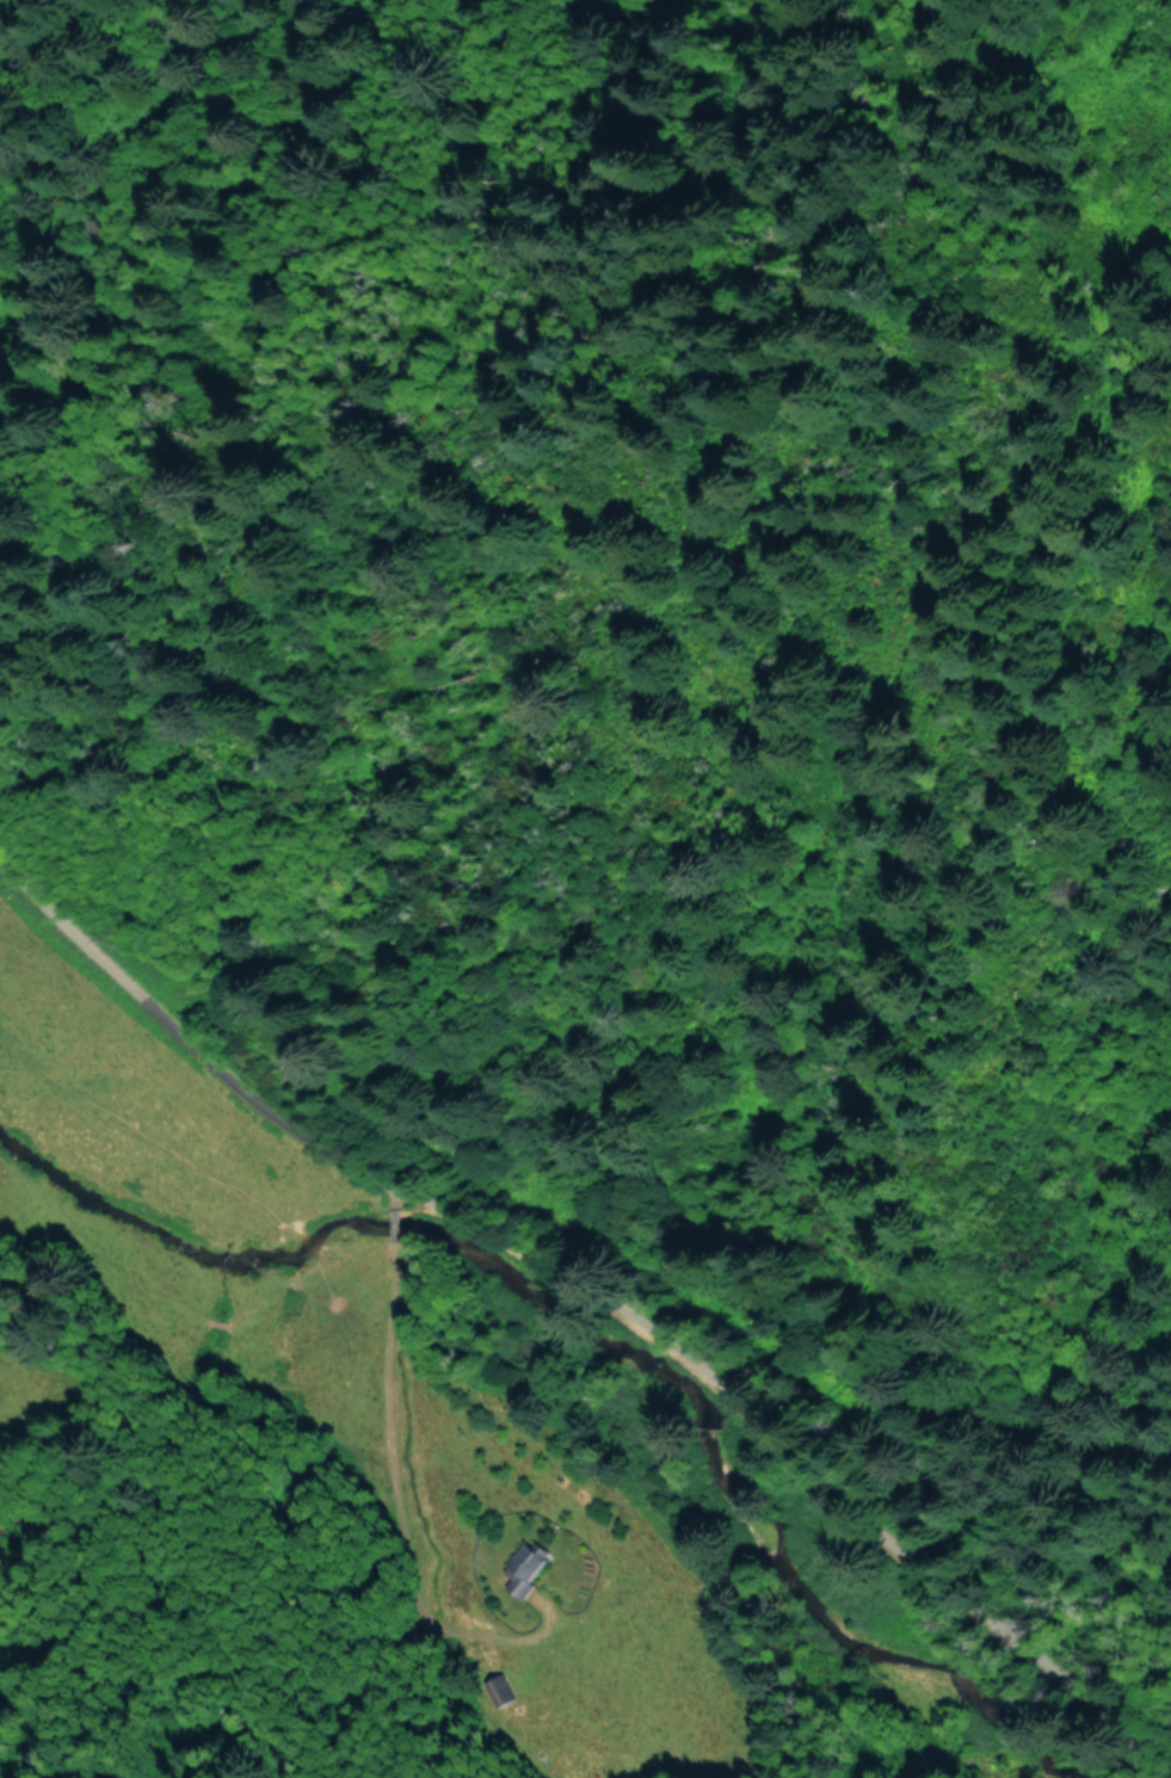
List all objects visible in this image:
road: (593, 1286)
building: (522, 1564)
building: (497, 1689)

